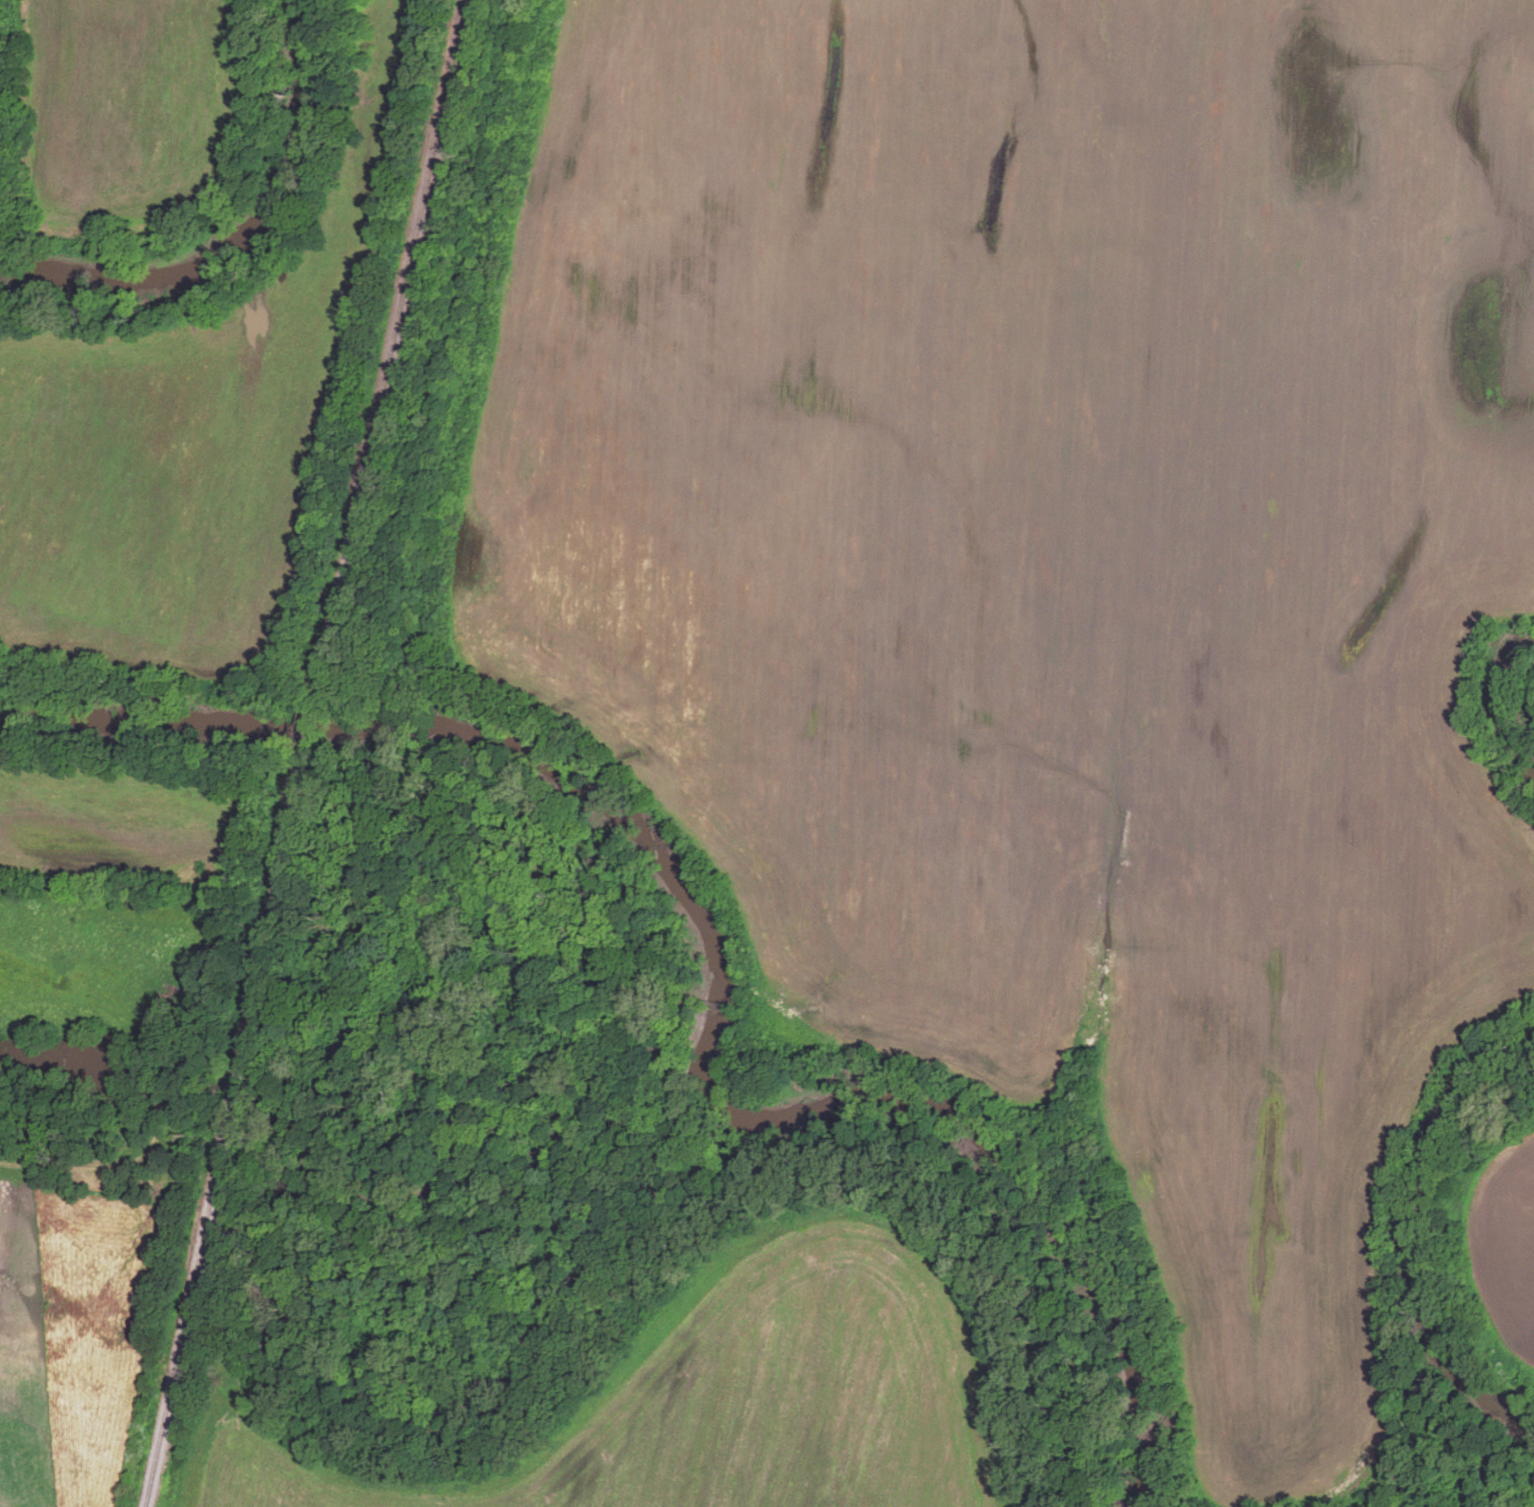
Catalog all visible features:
railway: (463, 49)
railway: (271, 758)

